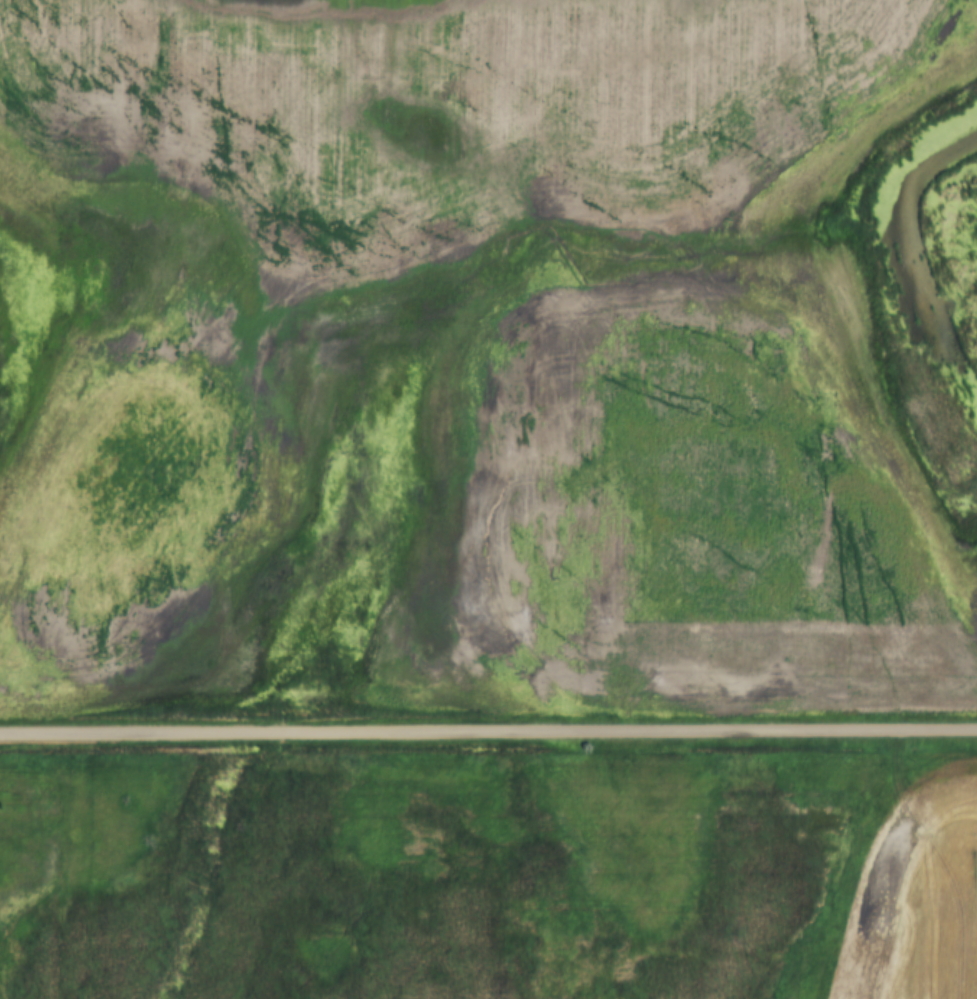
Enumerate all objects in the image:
road: (488, 731)

